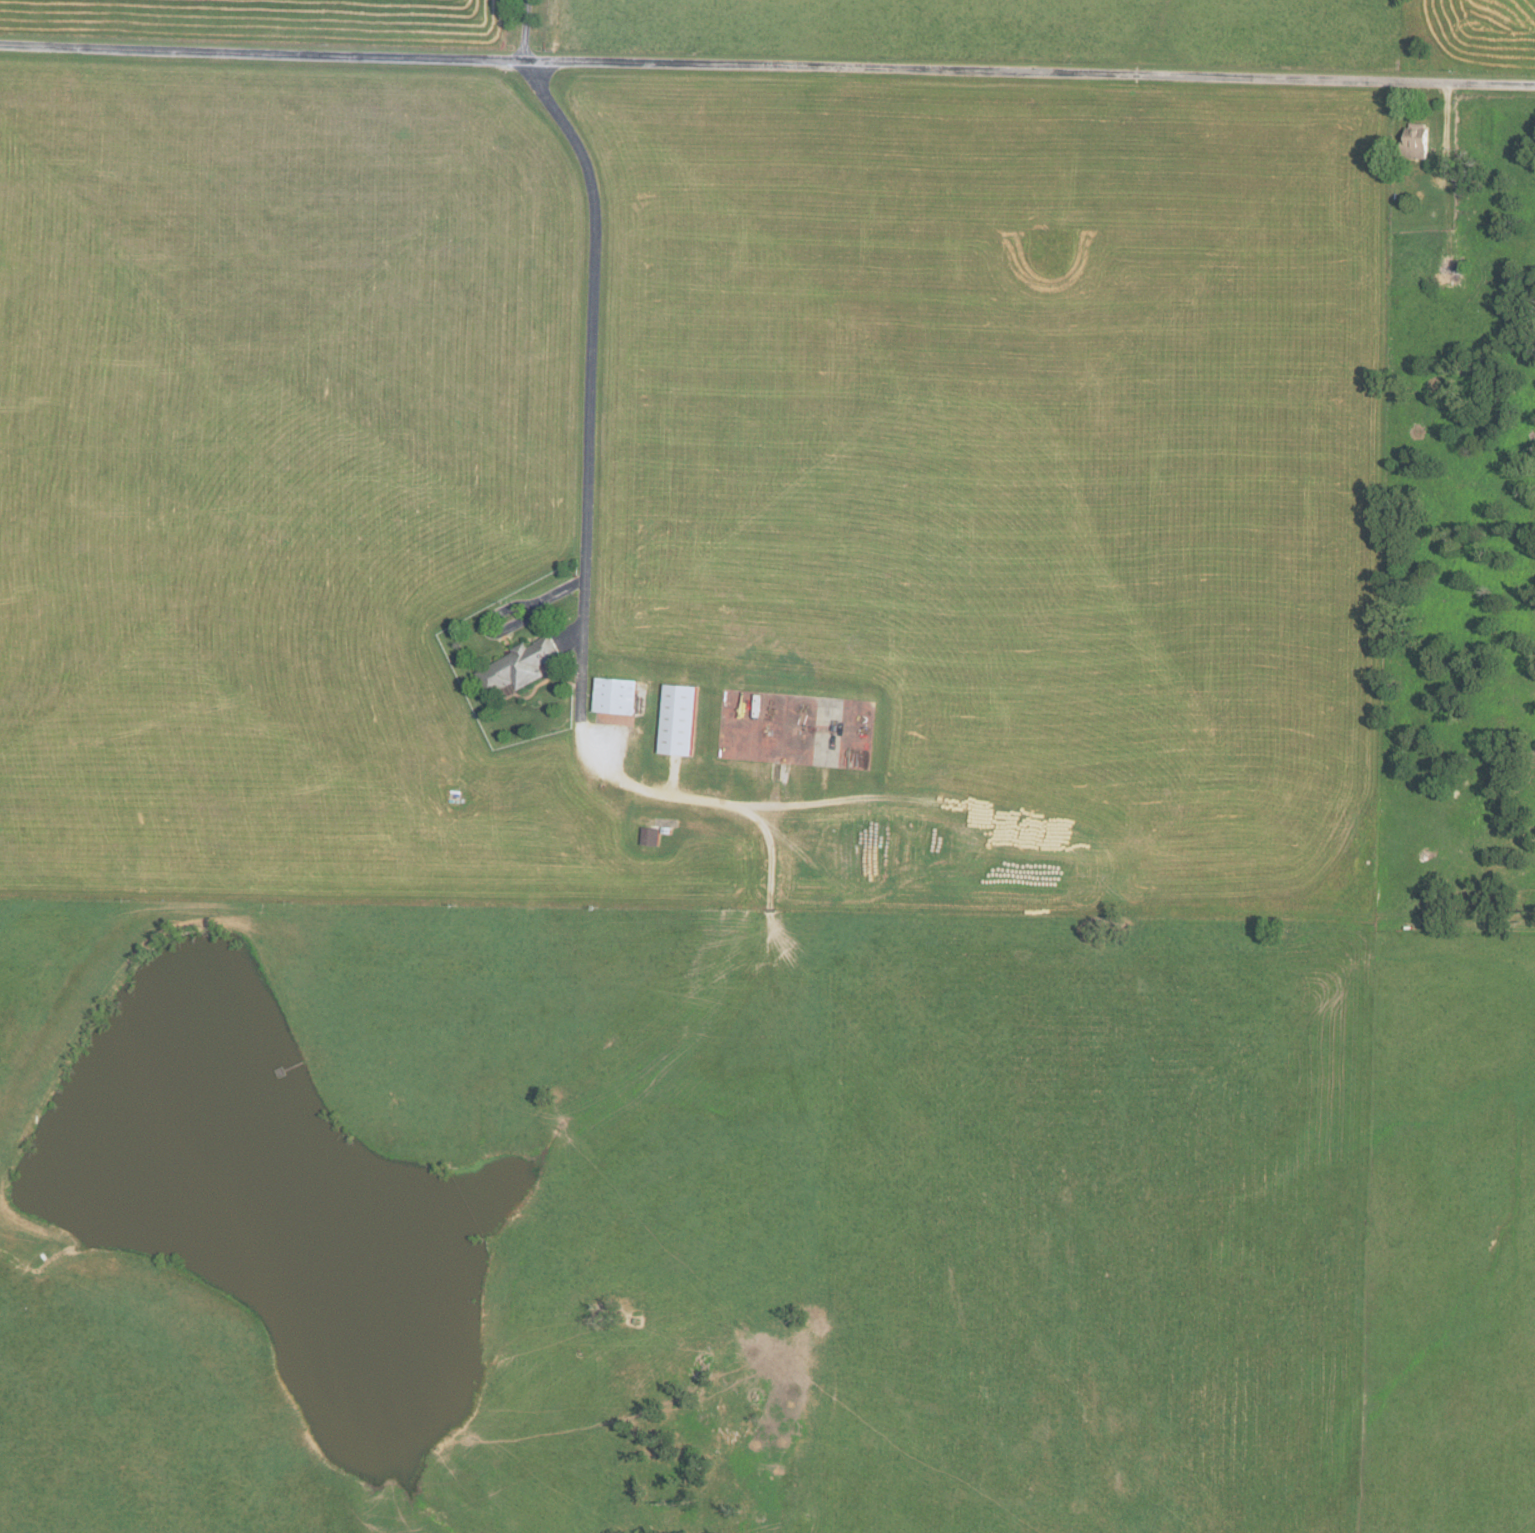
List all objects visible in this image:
road: (526, 32)
road: (767, 68)
building: (1419, 139)
road: (1447, 169)
building: (1454, 270)
road: (531, 607)
building: (521, 665)
building: (618, 695)
building: (615, 719)
building: (680, 719)
road: (577, 729)
building: (652, 836)

